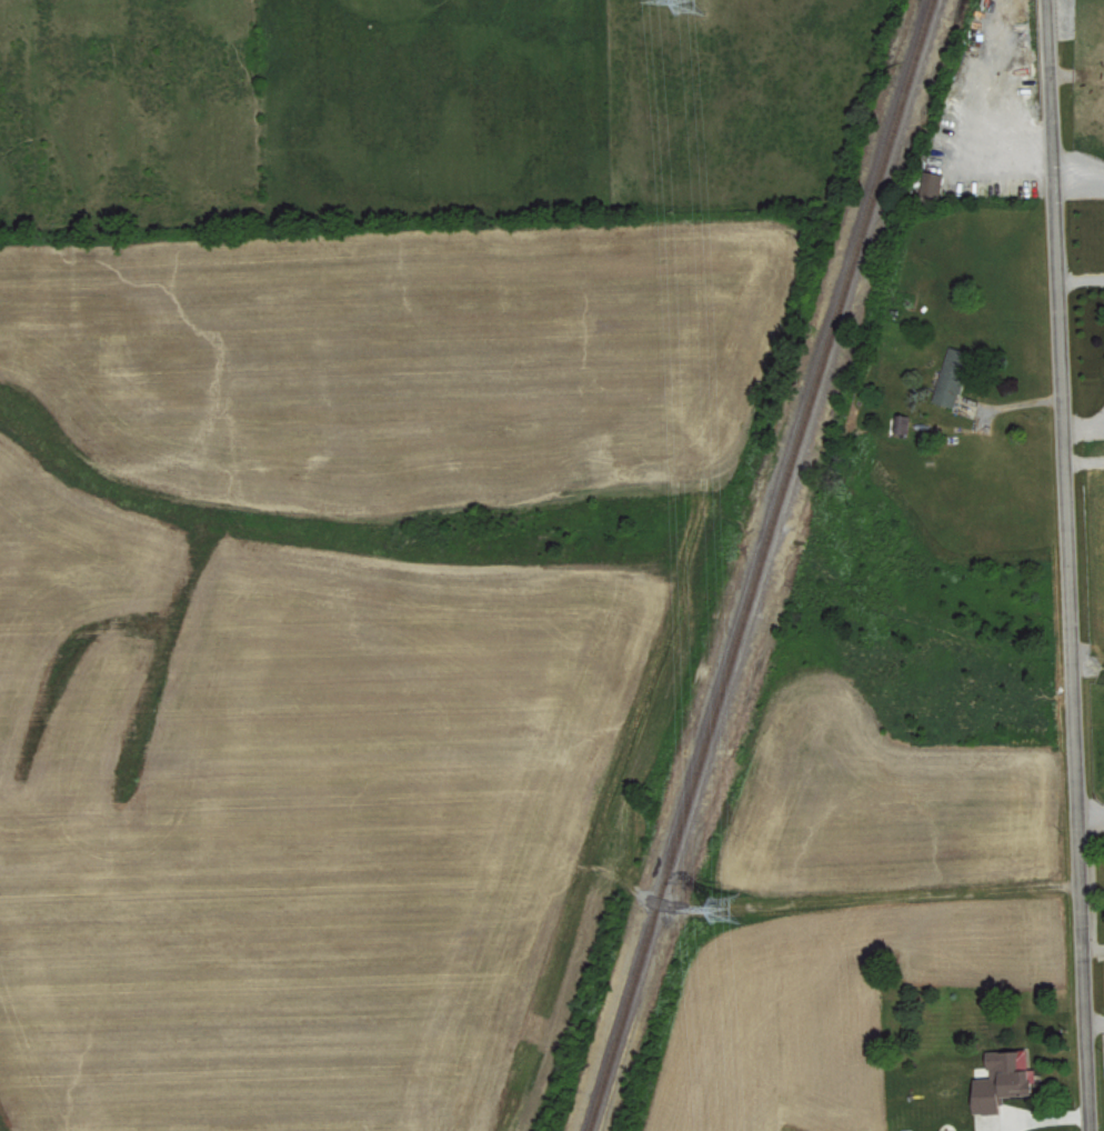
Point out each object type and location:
building: (932, 182)
road: (1080, 183)
road: (1082, 279)
building: (954, 376)
building: (902, 422)
railway: (742, 562)
road: (1071, 564)
power tower: (729, 914)
building: (1005, 1080)
building: (955, 1130)

